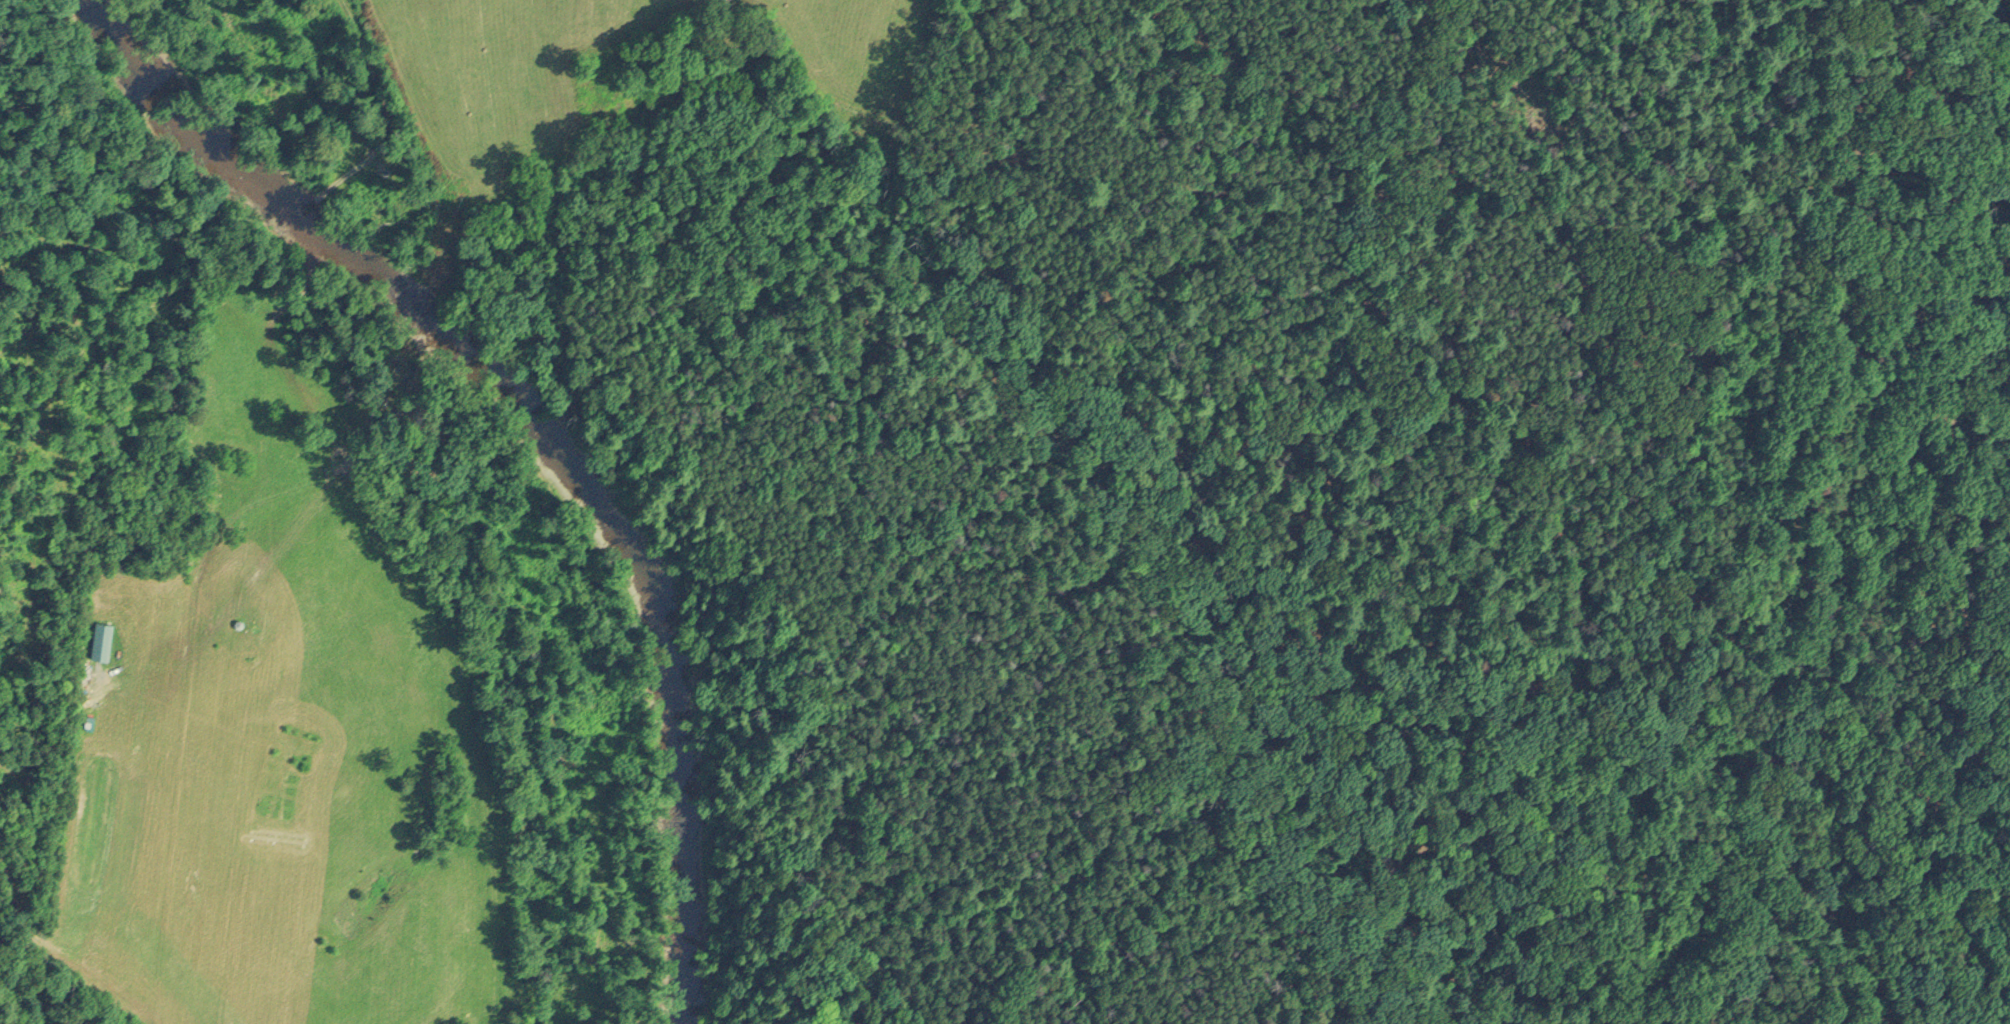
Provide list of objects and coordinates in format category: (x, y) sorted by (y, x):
road: (376, 97)
river: (532, 429)
building: (98, 640)

